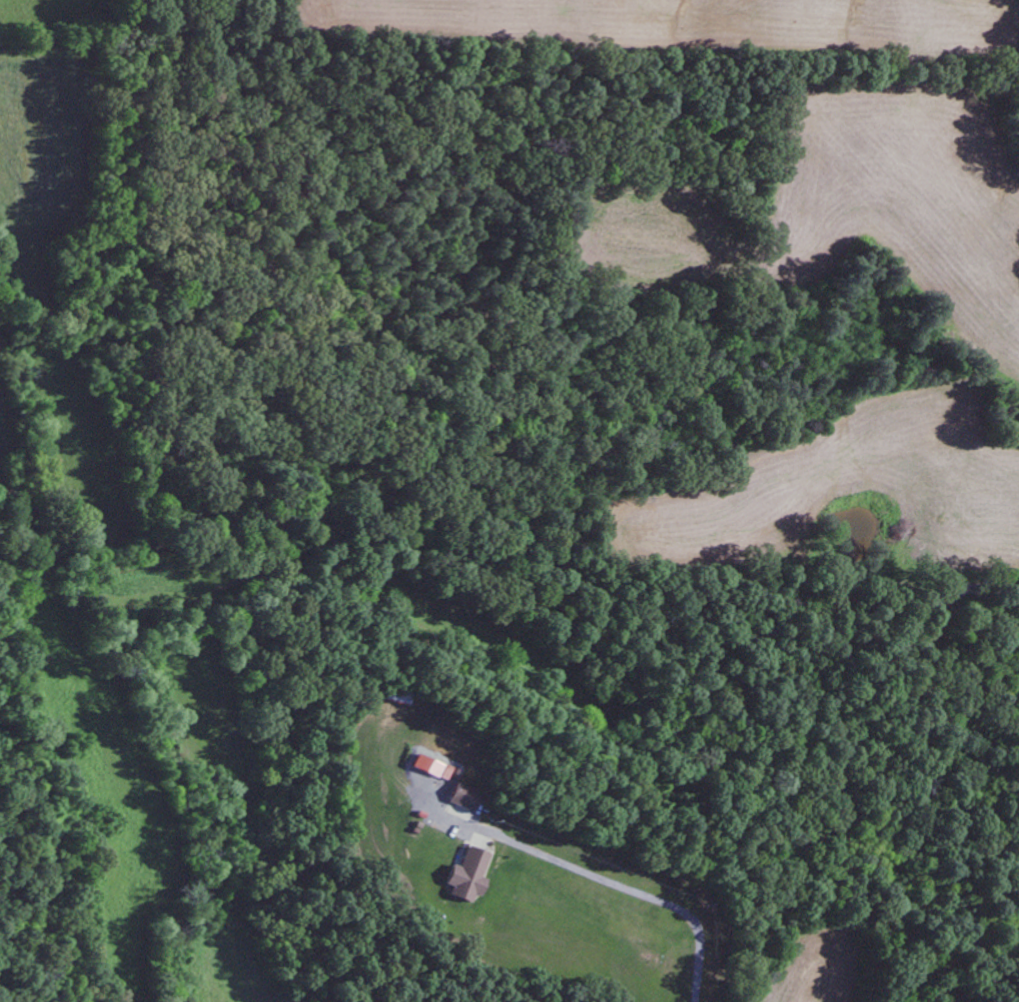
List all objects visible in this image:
road: (923, 652)
building: (427, 766)
building: (462, 797)
road: (833, 816)
building: (467, 875)

